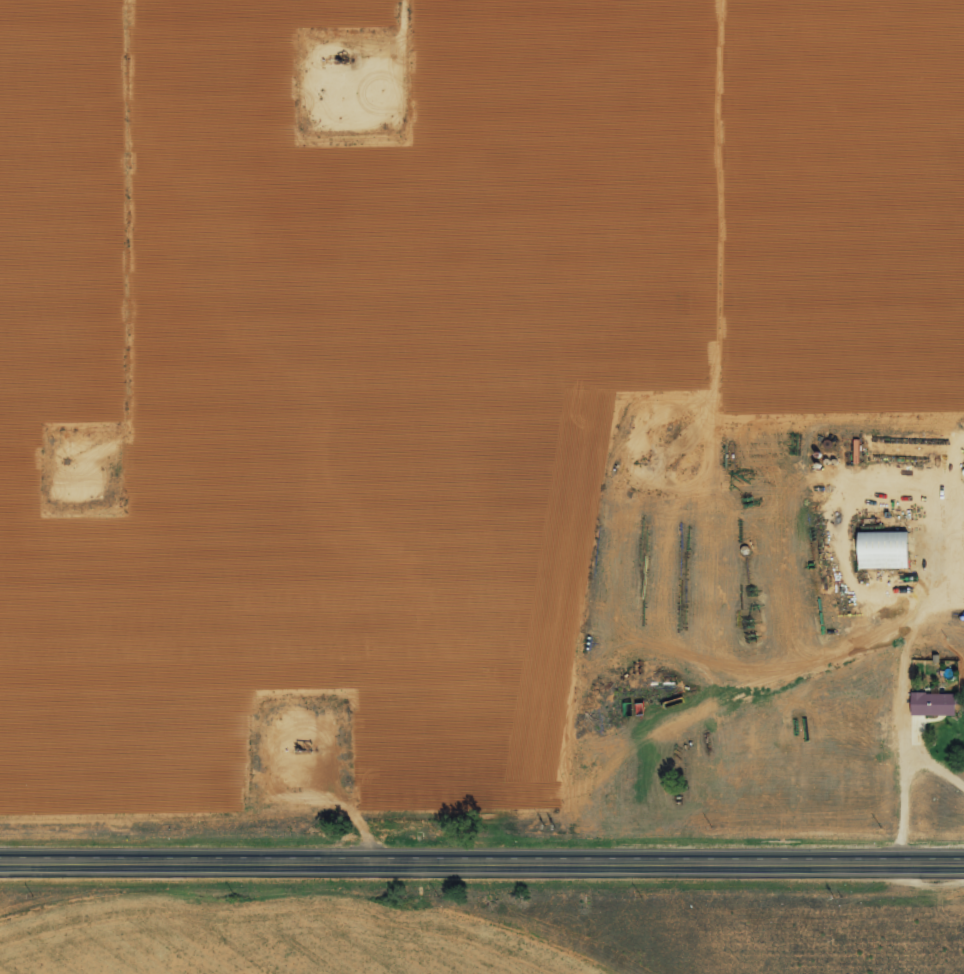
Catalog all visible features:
petroleum well: (345, 62)
building: (935, 704)
petroleum well: (297, 744)
road: (482, 863)

